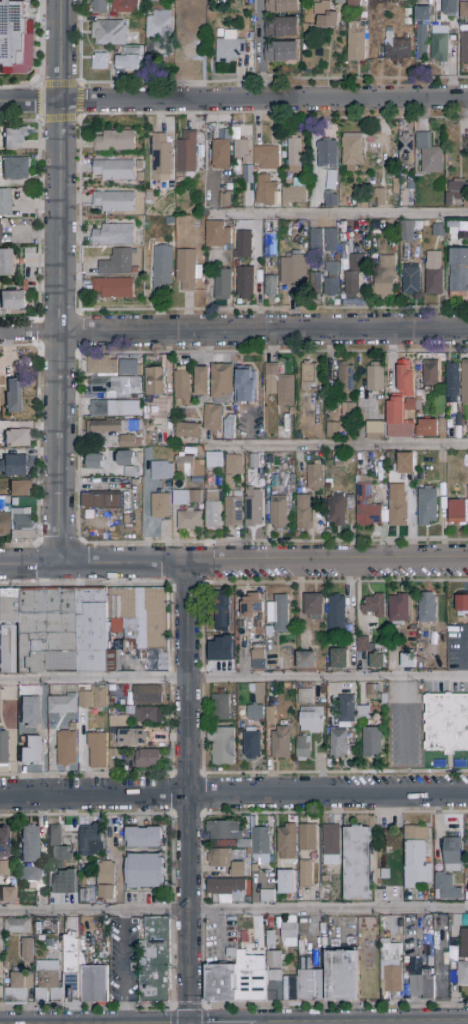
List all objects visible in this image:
building: (338, 0)
building: (353, 3)
building: (100, 6)
building: (126, 6)
building: (282, 6)
building: (449, 8)
building: (464, 9)
building: (422, 14)
building: (327, 20)
building: (160, 24)
building: (281, 27)
building: (109, 33)
building: (15, 39)
building: (356, 41)
building: (420, 41)
building: (439, 44)
building: (464, 45)
building: (228, 48)
building: (398, 48)
building: (196, 49)
building: (165, 50)
building: (281, 52)
road: (260, 54)
building: (129, 60)
road: (41, 62)
building: (99, 62)
road: (273, 78)
road: (234, 101)
road: (78, 117)
road: (389, 118)
building: (14, 137)
building: (115, 141)
building: (406, 149)
building: (241, 150)
building: (352, 150)
building: (185, 153)
building: (221, 154)
building: (327, 154)
building: (295, 155)
building: (429, 155)
building: (161, 158)
building: (266, 158)
building: (16, 168)
building: (113, 170)
building: (331, 179)
building: (266, 190)
building: (456, 191)
building: (295, 193)
building: (380, 196)
building: (330, 199)
building: (225, 200)
building: (4, 202)
building: (114, 202)
road: (340, 214)
road: (37, 217)
building: (438, 229)
building: (407, 231)
building: (113, 235)
building: (218, 235)
building: (316, 239)
building: (331, 241)
building: (244, 245)
building: (270, 246)
building: (5, 262)
building: (117, 262)
building: (294, 269)
building: (458, 269)
building: (162, 270)
building: (187, 270)
building: (434, 273)
building: (385, 275)
building: (353, 277)
building: (316, 280)
building: (411, 280)
road: (60, 281)
building: (245, 283)
building: (331, 283)
building: (222, 284)
building: (271, 286)
building: (114, 288)
road: (78, 292)
building: (13, 300)
road: (77, 331)
road: (234, 331)
road: (37, 332)
road: (271, 352)
building: (103, 365)
building: (129, 367)
building: (430, 373)
building: (309, 376)
building: (375, 377)
building: (346, 379)
building: (154, 381)
building: (202, 381)
building: (464, 382)
building: (453, 383)
building: (222, 384)
building: (246, 385)
building: (279, 386)
building: (114, 387)
building: (183, 388)
building: (13, 396)
building: (115, 408)
building: (406, 408)
building: (347, 411)
building: (212, 418)
building: (230, 429)
building: (333, 430)
building: (120, 431)
building: (188, 431)
building: (375, 431)
building: (18, 437)
road: (38, 444)
road: (339, 446)
road: (77, 447)
building: (214, 460)
building: (127, 461)
building: (95, 462)
building: (14, 463)
building: (405, 463)
building: (191, 467)
building: (232, 470)
building: (160, 471)
building: (315, 477)
building: (21, 488)
building: (195, 497)
building: (105, 501)
building: (397, 505)
building: (161, 506)
building: (366, 506)
building: (427, 506)
building: (254, 507)
building: (213, 509)
building: (336, 510)
building: (233, 511)
building: (278, 512)
building: (303, 512)
building: (457, 512)
building: (189, 519)
road: (142, 521)
building: (4, 524)
building: (21, 524)
road: (384, 524)
road: (274, 541)
road: (59, 543)
road: (326, 561)
road: (40, 562)
road: (80, 562)
road: (122, 563)
road: (30, 564)
building: (463, 604)
building: (252, 605)
building: (313, 606)
building: (373, 606)
building: (427, 608)
building: (399, 609)
building: (222, 613)
building: (279, 613)
building: (336, 613)
building: (80, 629)
building: (452, 640)
building: (363, 645)
building: (285, 652)
building: (338, 659)
building: (258, 660)
building: (306, 660)
building: (376, 661)
building: (408, 661)
road: (234, 679)
building: (372, 692)
building: (148, 695)
building: (306, 696)
building: (93, 698)
building: (62, 705)
building: (220, 706)
building: (347, 708)
building: (30, 712)
building: (255, 712)
building: (268, 712)
building: (363, 713)
building: (149, 715)
building: (311, 720)
road: (404, 720)
building: (117, 721)
building: (446, 723)
building: (133, 737)
building: (372, 742)
building: (280, 743)
building: (339, 743)
building: (252, 744)
building: (222, 746)
building: (3, 747)
building: (67, 748)
building: (304, 748)
building: (31, 750)
building: (100, 752)
building: (148, 758)
road: (187, 793)
road: (233, 793)
building: (223, 831)
building: (143, 838)
building: (295, 839)
building: (55, 840)
building: (4, 841)
building: (91, 841)
building: (29, 844)
building: (260, 844)
building: (331, 844)
building: (238, 854)
building: (417, 857)
building: (226, 861)
building: (357, 863)
building: (4, 868)
building: (146, 871)
building: (449, 871)
building: (29, 874)
building: (305, 875)
building: (107, 881)
building: (286, 882)
building: (226, 887)
building: (8, 894)
building: (87, 896)
building: (267, 896)
road: (234, 910)
building: (465, 920)
building: (386, 924)
building: (71, 925)
building: (17, 926)
building: (289, 930)
building: (42, 939)
building: (272, 939)
building: (288, 941)
building: (55, 943)
building: (48, 944)
building: (464, 944)
building: (27, 950)
building: (0, 957)
building: (156, 960)
building: (391, 964)
building: (71, 967)
road: (121, 968)
building: (460, 975)
building: (343, 976)
building: (247, 979)
building: (48, 983)
building: (416, 983)
building: (94, 984)
building: (308, 986)
building: (322, 986)
building: (428, 986)
building: (19, 989)
building: (291, 989)

